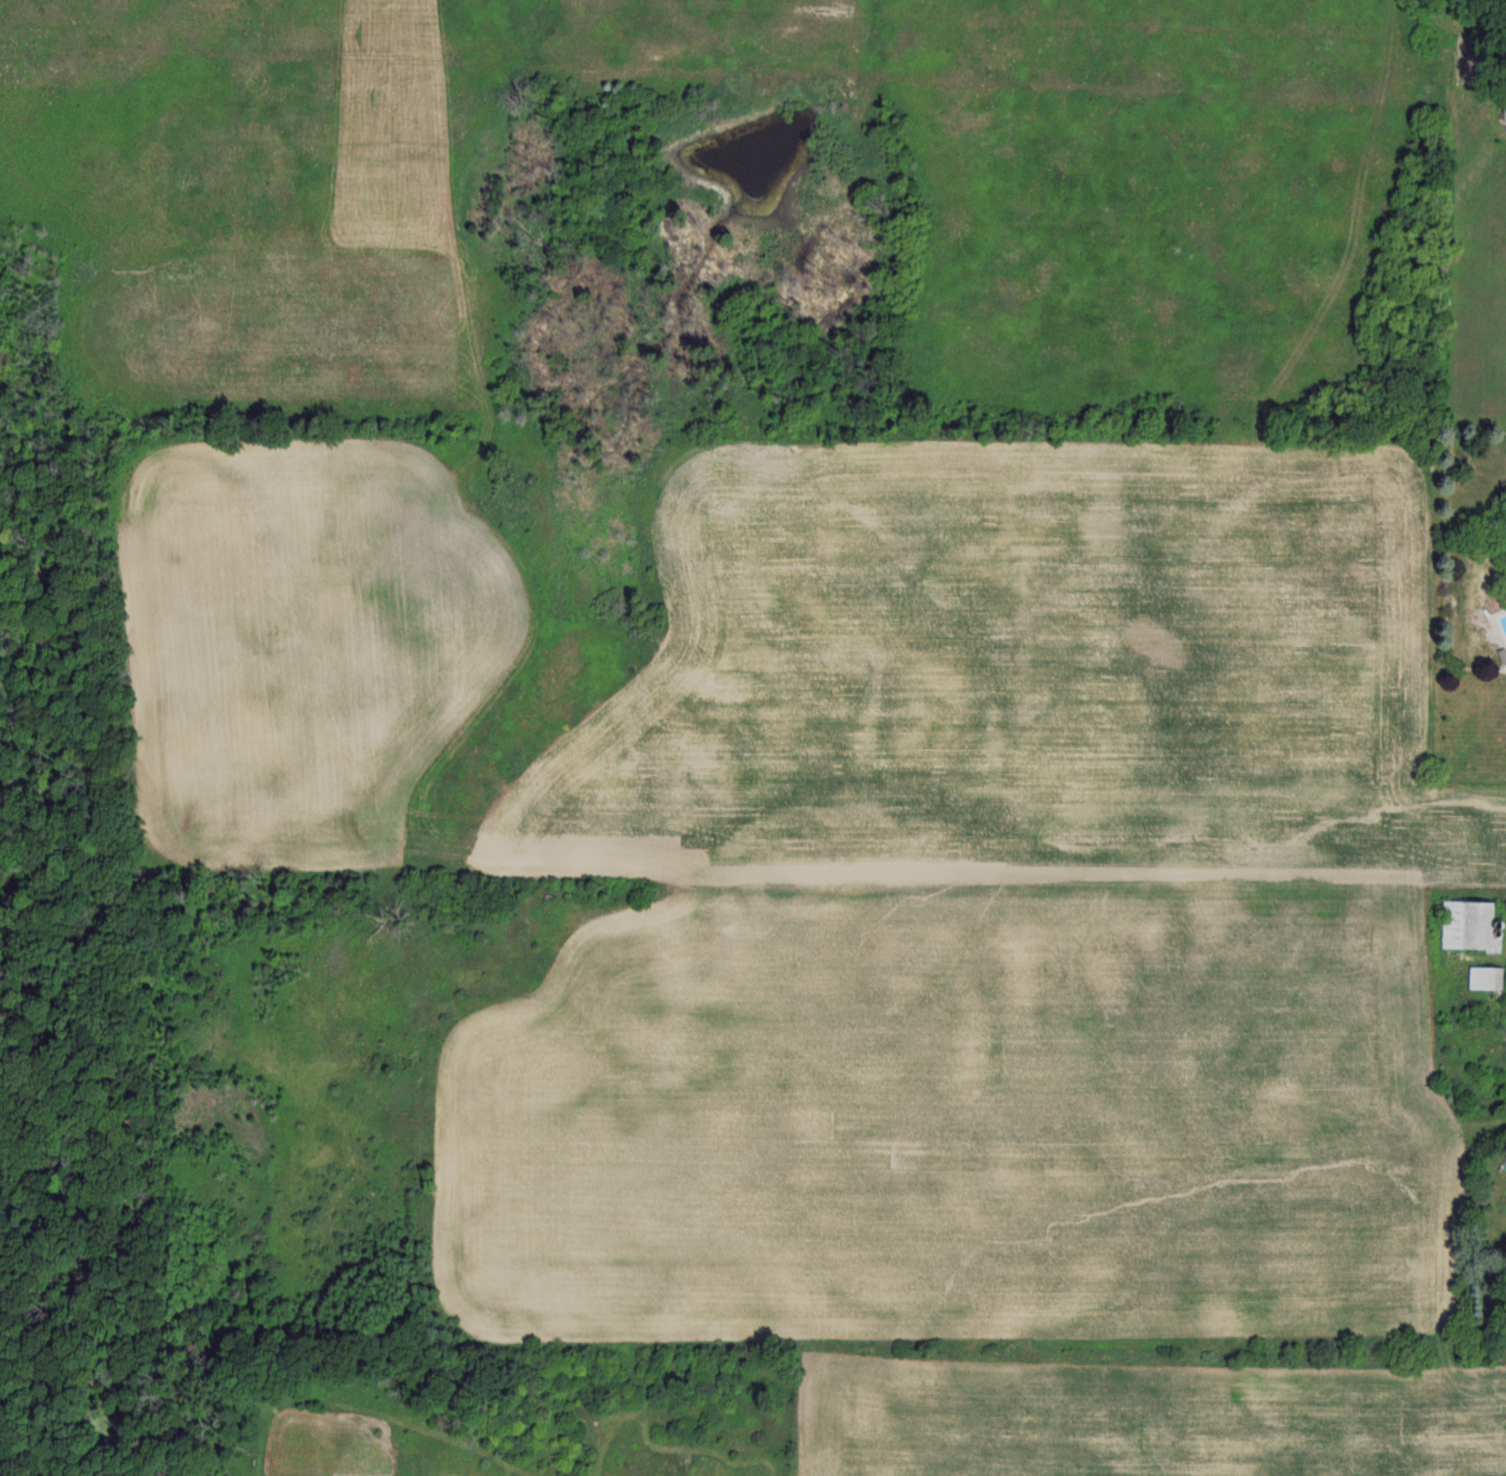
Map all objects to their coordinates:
building: (1503, 110)
building: (1465, 925)
building: (1484, 981)

